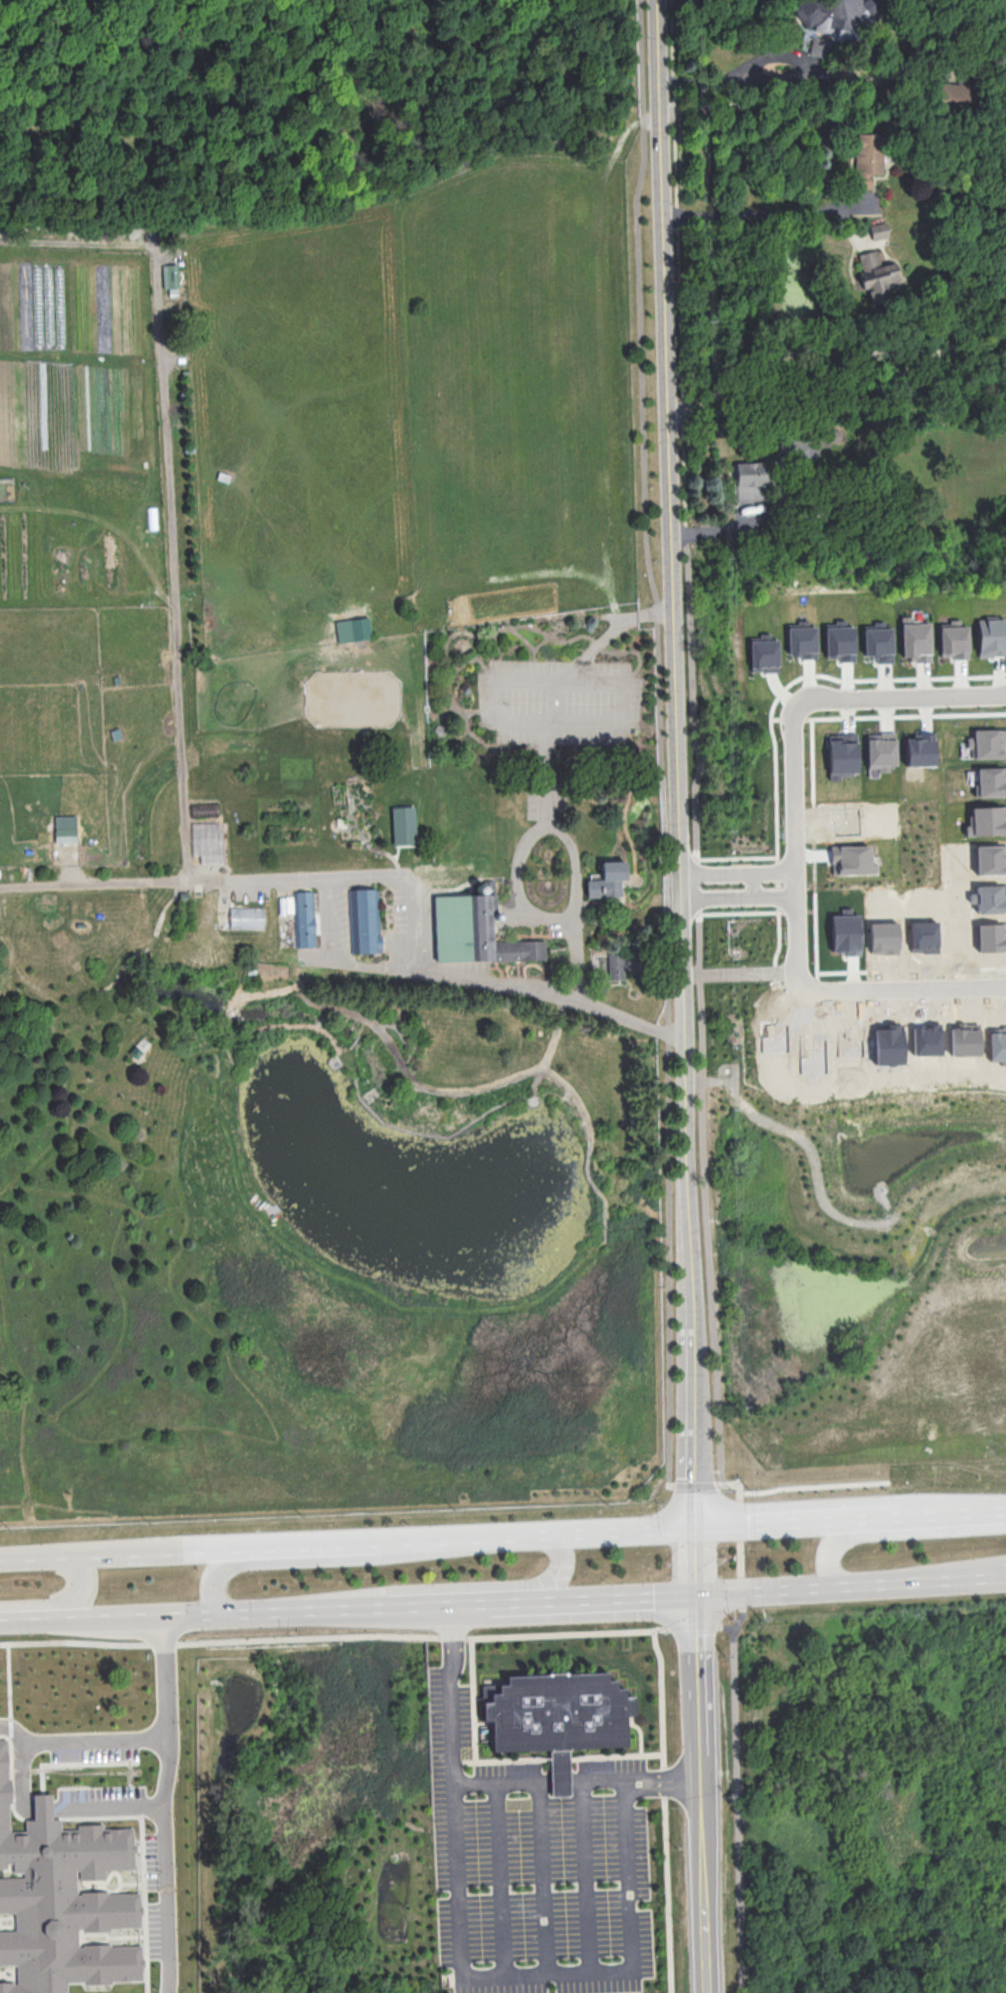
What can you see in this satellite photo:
road: (287, 10)
building: (828, 14)
road: (112, 56)
road: (557, 59)
road: (717, 77)
building: (955, 93)
road: (802, 100)
road: (636, 120)
building: (867, 158)
road: (402, 189)
road: (110, 190)
road: (762, 212)
building: (879, 230)
road: (77, 245)
building: (876, 276)
building: (170, 279)
road: (829, 349)
building: (800, 444)
building: (225, 473)
building: (750, 480)
building: (115, 543)
road: (171, 565)
road: (615, 606)
road: (620, 615)
building: (353, 629)
road: (612, 629)
road: (545, 634)
building: (991, 637)
road: (524, 638)
building: (801, 639)
building: (953, 639)
building: (839, 640)
building: (915, 640)
building: (878, 642)
road: (541, 643)
building: (763, 653)
road: (448, 679)
road: (557, 701)
parking lot: (560, 702)
road: (444, 710)
road: (623, 722)
road: (471, 732)
road: (692, 743)
building: (989, 743)
building: (920, 749)
building: (880, 750)
building: (842, 755)
crop: (330, 757)
road: (678, 761)
building: (991, 781)
road: (598, 798)
parking lot: (546, 802)
road: (355, 815)
road: (348, 819)
road: (625, 819)
building: (987, 820)
building: (404, 826)
building: (67, 831)
road: (794, 840)
road: (369, 845)
road: (574, 854)
road: (555, 856)
building: (853, 859)
building: (990, 859)
road: (532, 860)
road: (738, 870)
building: (29, 871)
road: (345, 877)
road: (544, 879)
road: (94, 881)
building: (607, 881)
road: (750, 883)
road: (516, 891)
road: (556, 891)
road: (738, 896)
building: (991, 898)
building: (245, 917)
building: (303, 919)
road: (329, 920)
building: (52, 922)
building: (361, 922)
building: (845, 932)
building: (474, 933)
building: (924, 936)
building: (884, 937)
building: (991, 937)
building: (616, 967)
road: (740, 970)
road: (496, 984)
road: (366, 1028)
road: (258, 1029)
road: (668, 1032)
building: (926, 1039)
building: (964, 1039)
road: (407, 1041)
building: (851, 1041)
road: (355, 1042)
building: (997, 1044)
building: (888, 1045)
road: (347, 1051)
road: (549, 1051)
road: (398, 1056)
road: (338, 1059)
road: (349, 1059)
road: (734, 1079)
road: (709, 1080)
road: (565, 1093)
road: (576, 1097)
road: (534, 1100)
road: (431, 1133)
road: (814, 1166)
road: (597, 1188)
pier: (272, 1208)
road: (263, 1214)
road: (260, 1217)
road: (508, 1309)
road: (814, 1485)
road: (852, 1515)
traffic signals: (698, 1524)
road: (628, 1527)
road: (518, 1532)
road: (888, 1532)
road: (238, 1544)
road: (325, 1558)
road: (698, 1560)
road: (968, 1569)
road: (969, 1580)
road: (921, 1583)
road: (881, 1585)
road: (449, 1586)
road: (775, 1591)
traffic signals: (699, 1596)
road: (608, 1600)
road: (63, 1602)
road: (450, 1606)
road: (300, 1612)
road: (107, 1620)
road: (540, 1633)
road: (452, 1634)
road: (170, 1642)
road: (9, 1685)
building: (554, 1711)
road: (80, 1740)
building: (559, 1772)
road: (579, 1782)
road: (704, 1794)
road: (161, 1805)
road: (112, 1807)
road: (665, 1810)
parking lot: (535, 1866)
road: (588, 1877)
road: (543, 1878)
road: (500, 1879)
building: (62, 1898)
road: (482, 1975)

